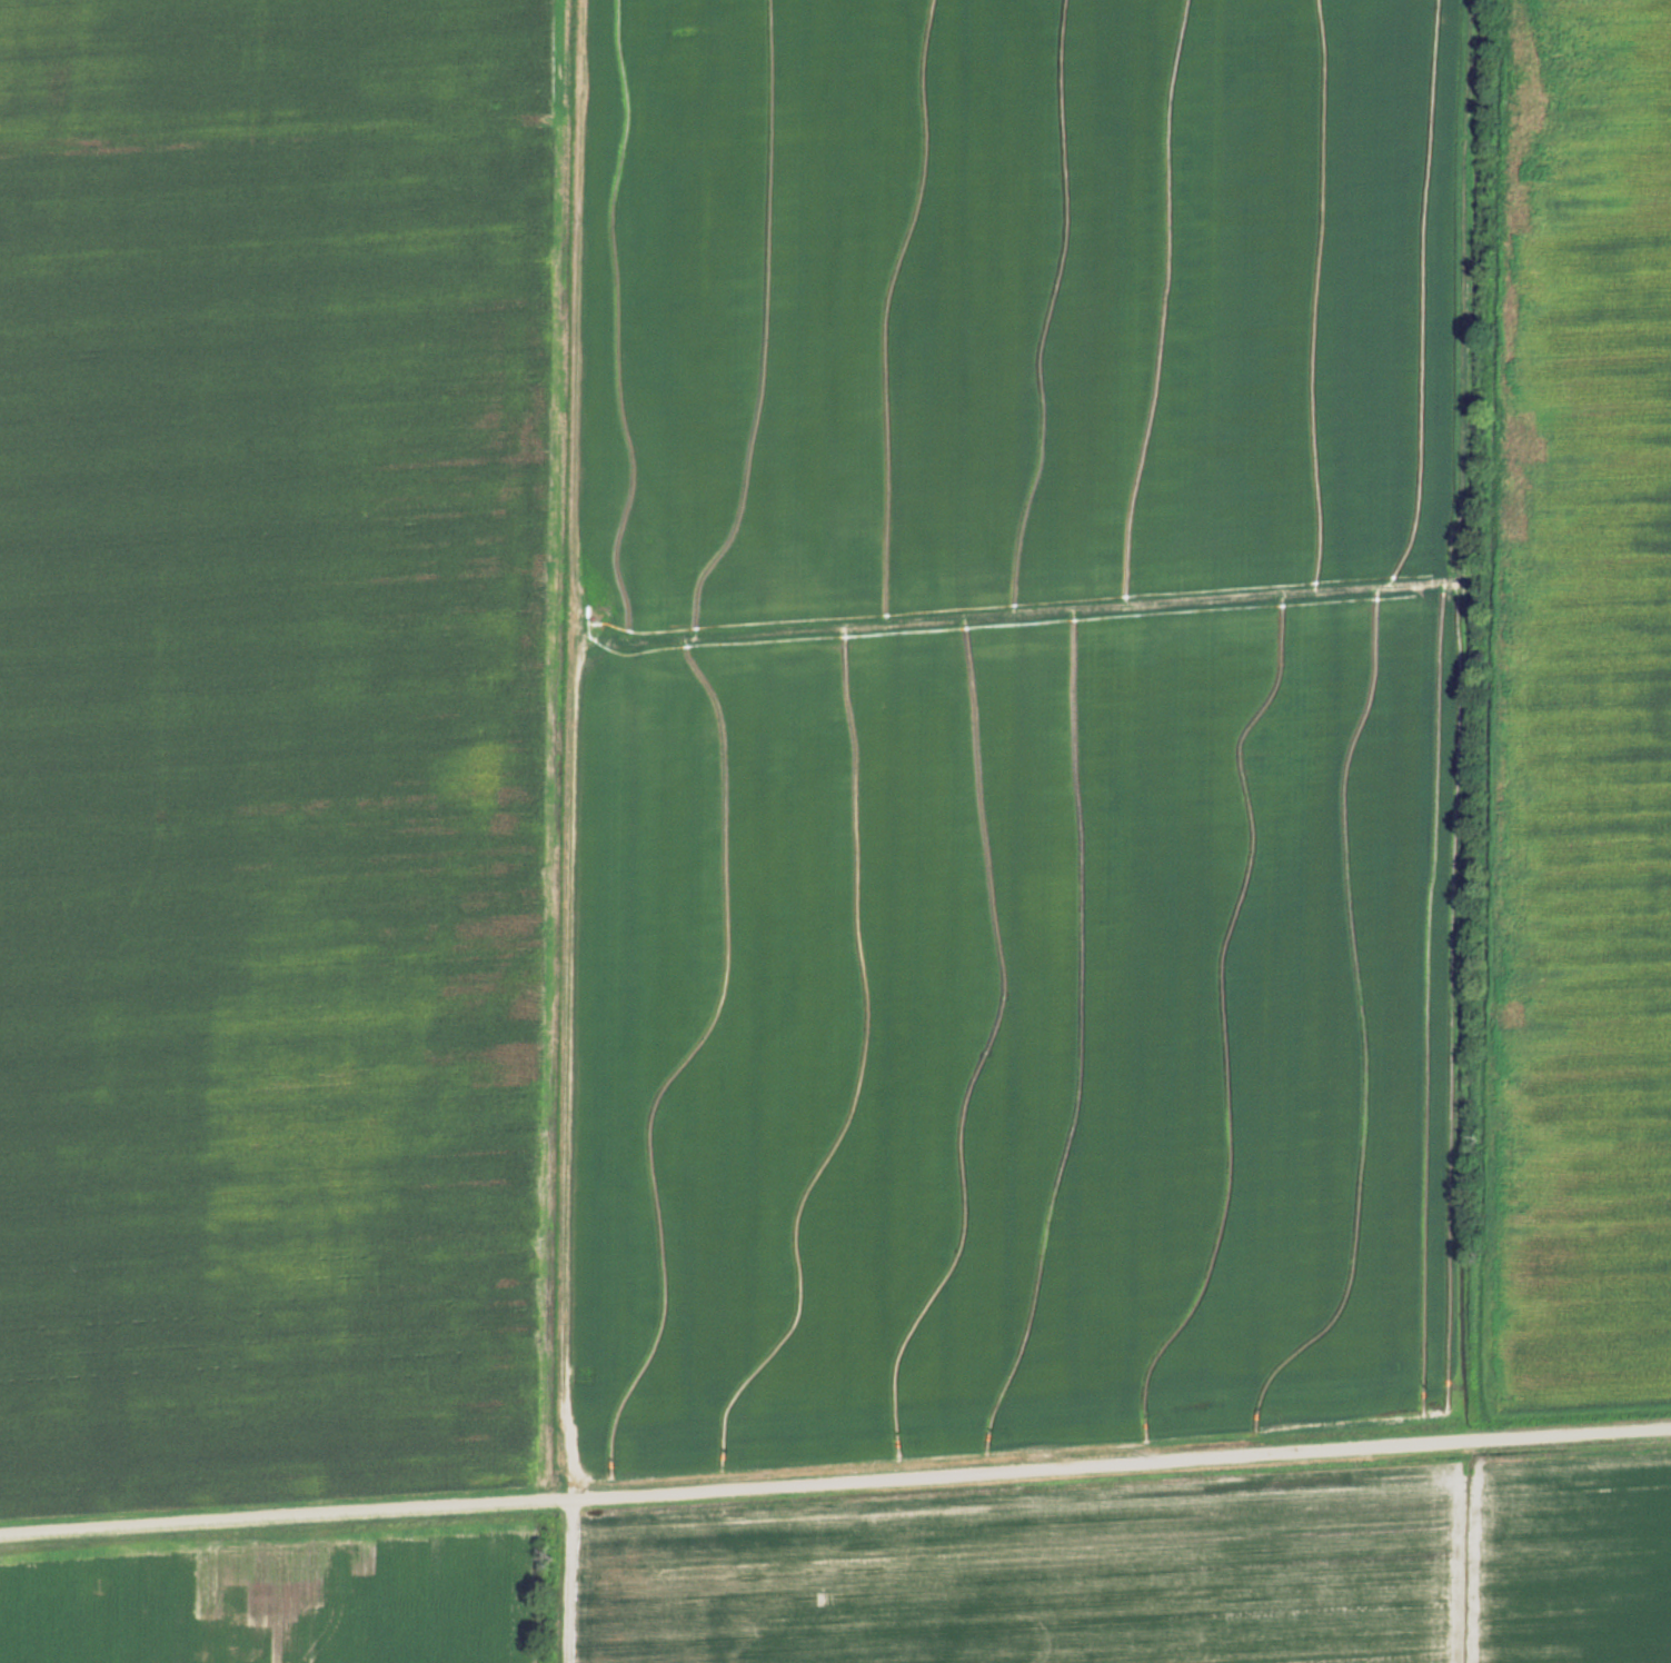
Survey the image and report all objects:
road: (835, 1482)

